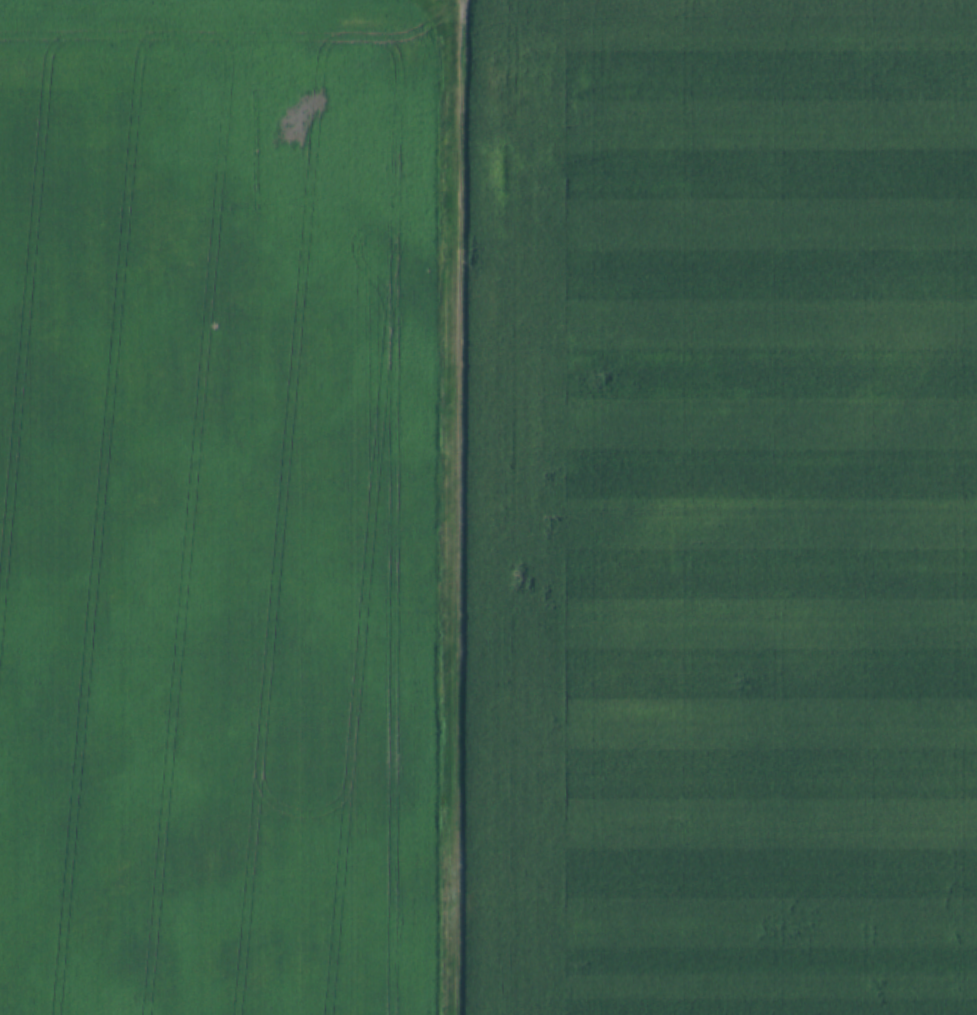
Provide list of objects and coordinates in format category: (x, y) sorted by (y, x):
road: (460, 507)

